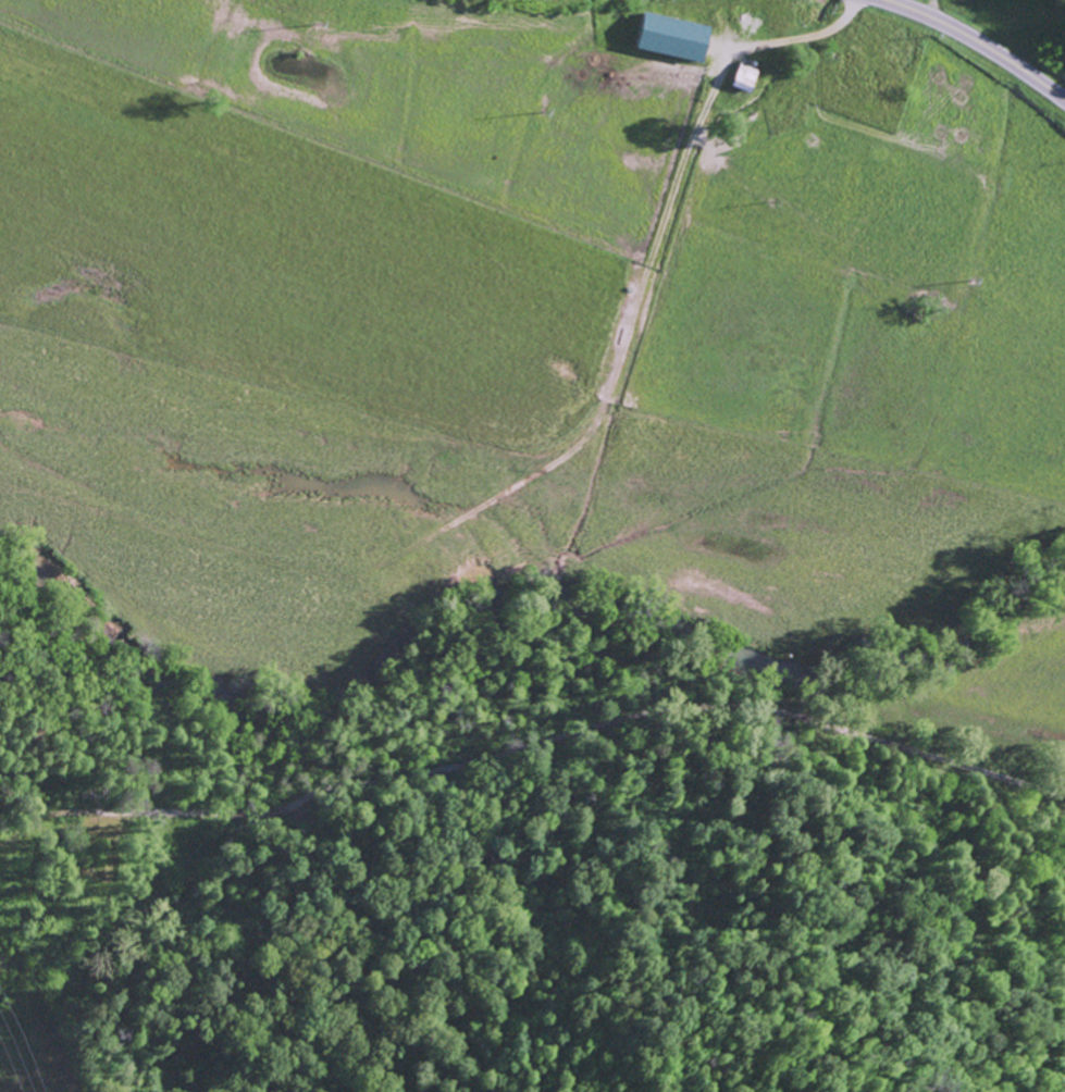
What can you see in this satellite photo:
building: (670, 36)
road: (978, 41)
building: (743, 77)
road: (714, 92)
road: (531, 721)

